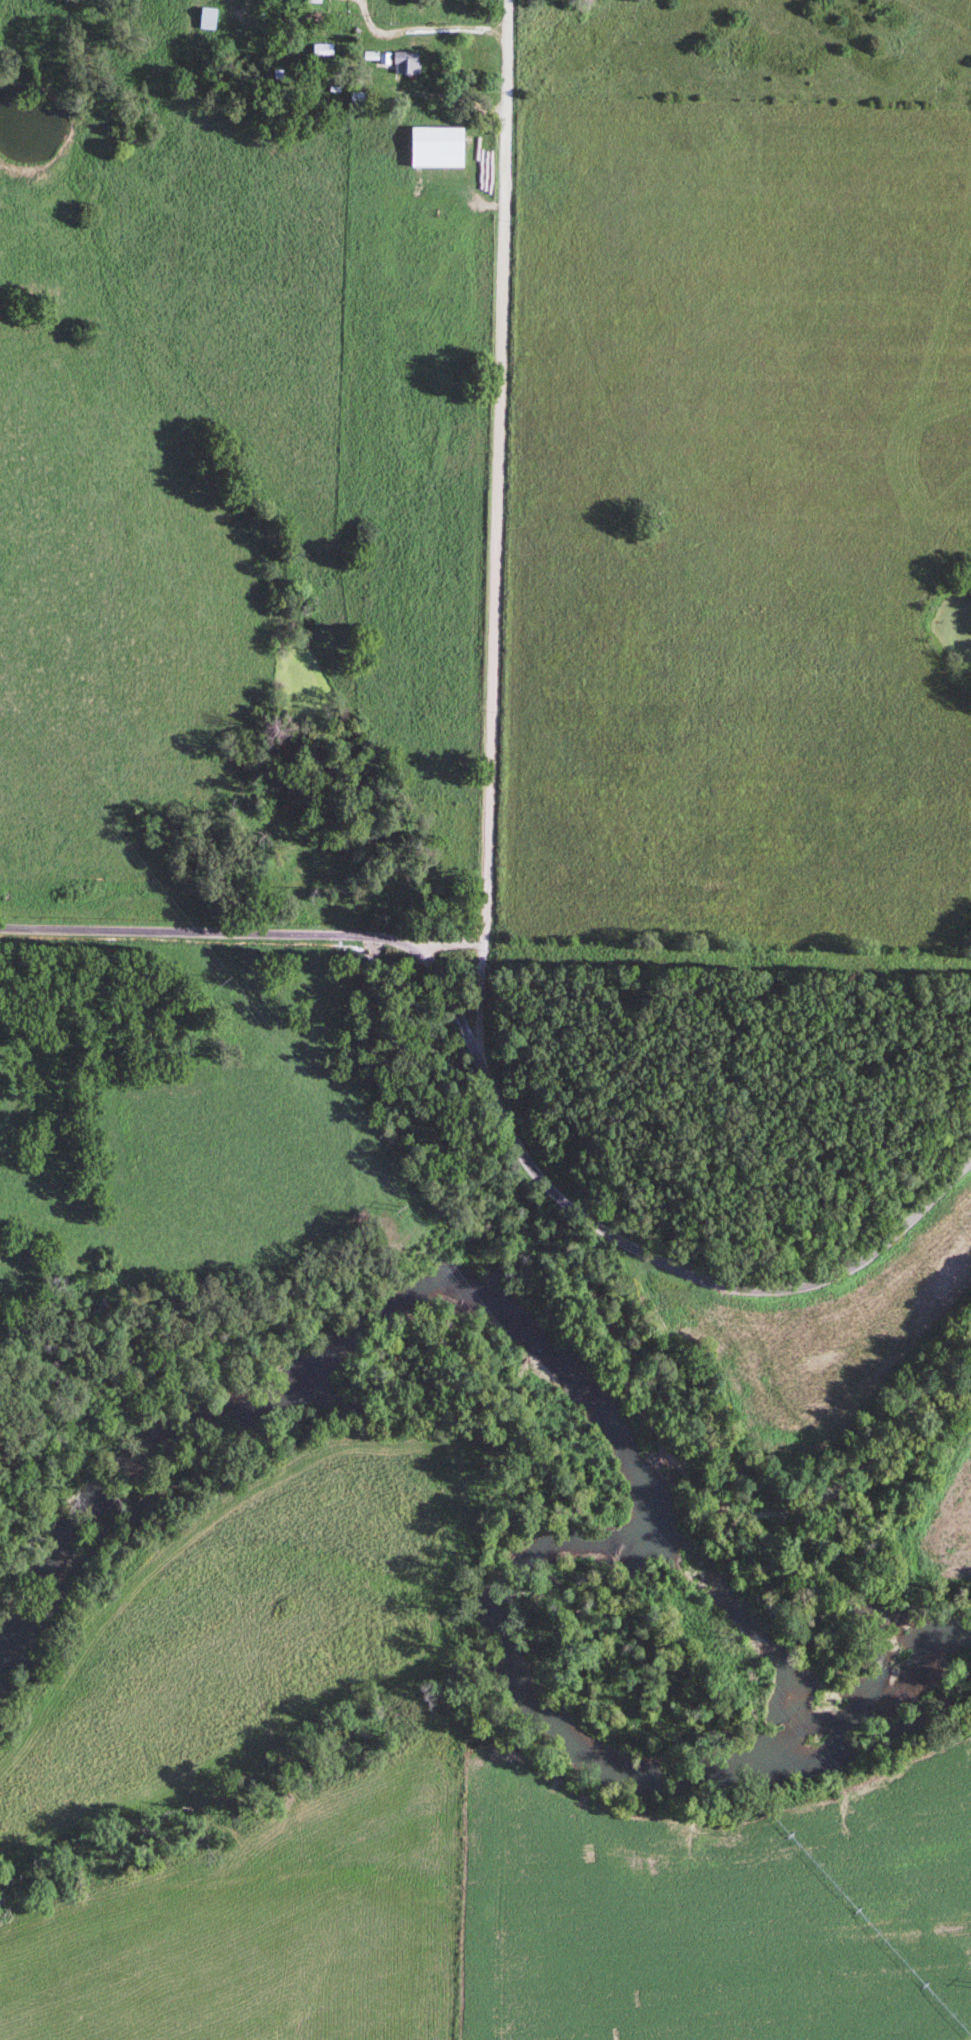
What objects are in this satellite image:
building: (317, 0)
building: (210, 17)
road: (424, 30)
building: (323, 48)
building: (384, 58)
building: (407, 62)
building: (358, 95)
road: (497, 471)
road: (241, 933)
road: (448, 997)
road: (641, 1250)

